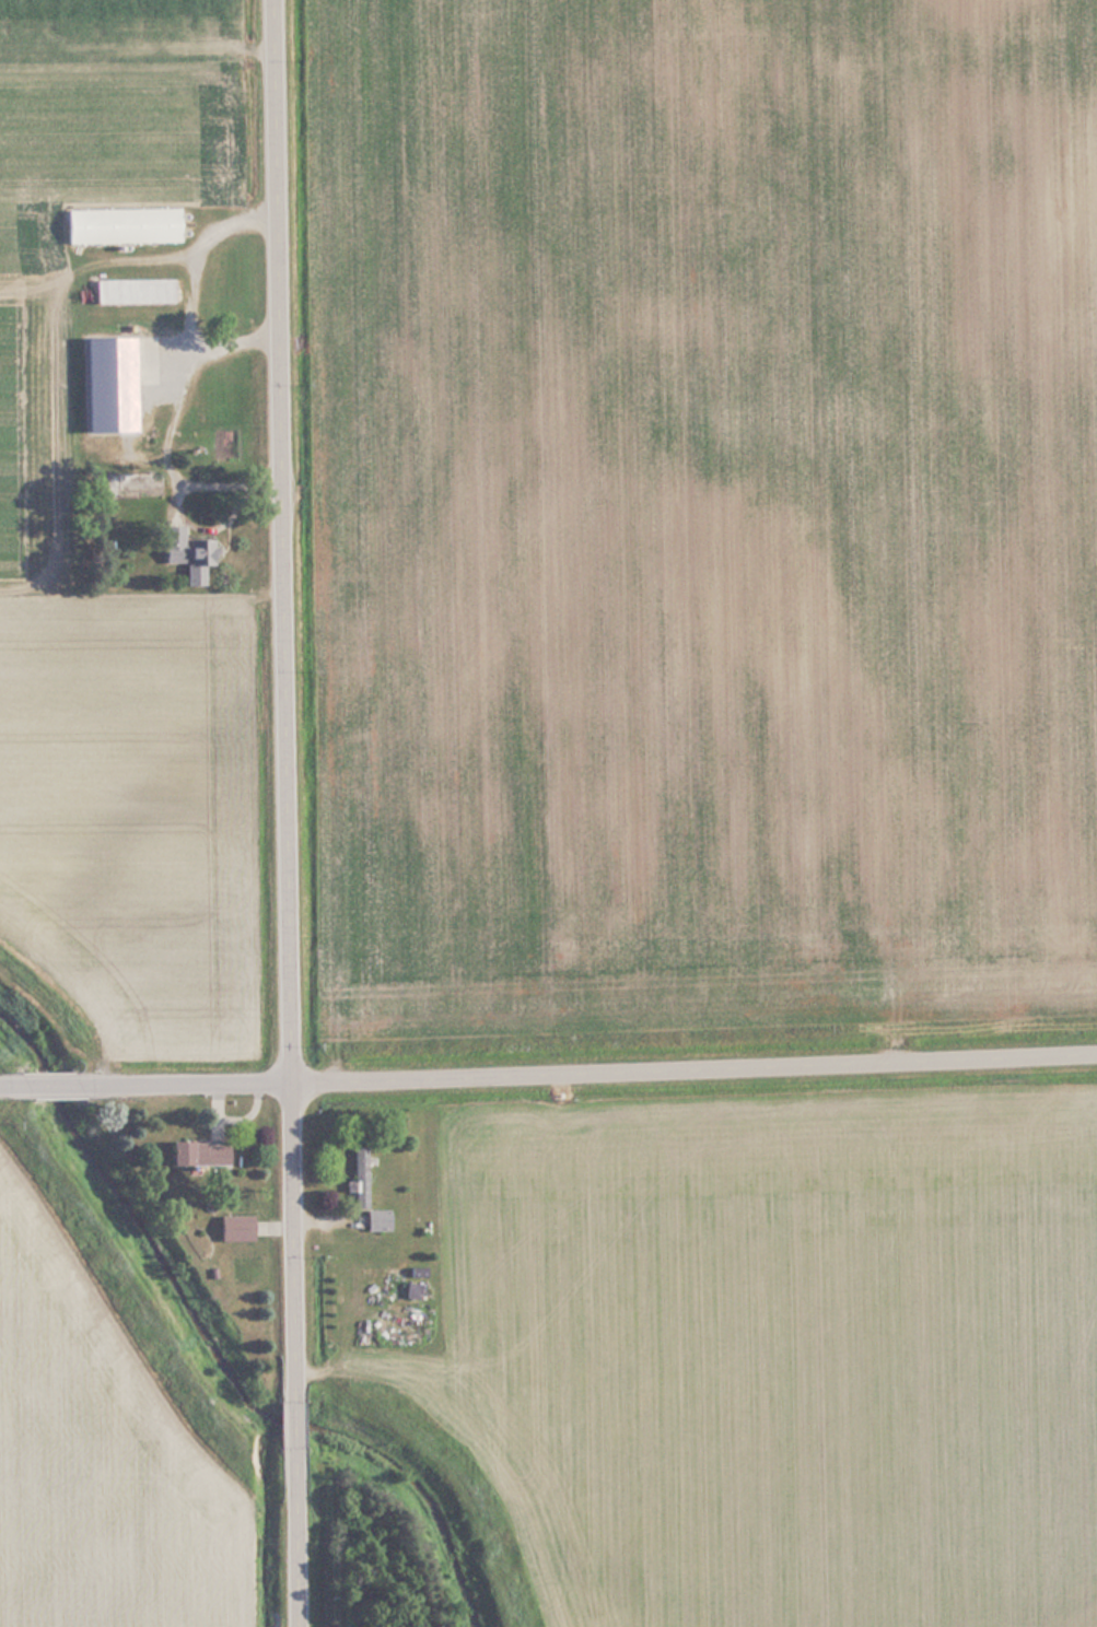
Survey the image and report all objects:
building: (120, 224)
building: (132, 289)
building: (132, 484)
building: (184, 547)
road: (282, 692)
road: (592, 1066)
road: (48, 1079)
road: (4, 1080)
building: (195, 1154)
building: (358, 1177)
building: (374, 1220)
building: (232, 1228)
road: (293, 1419)
road: (294, 1541)

